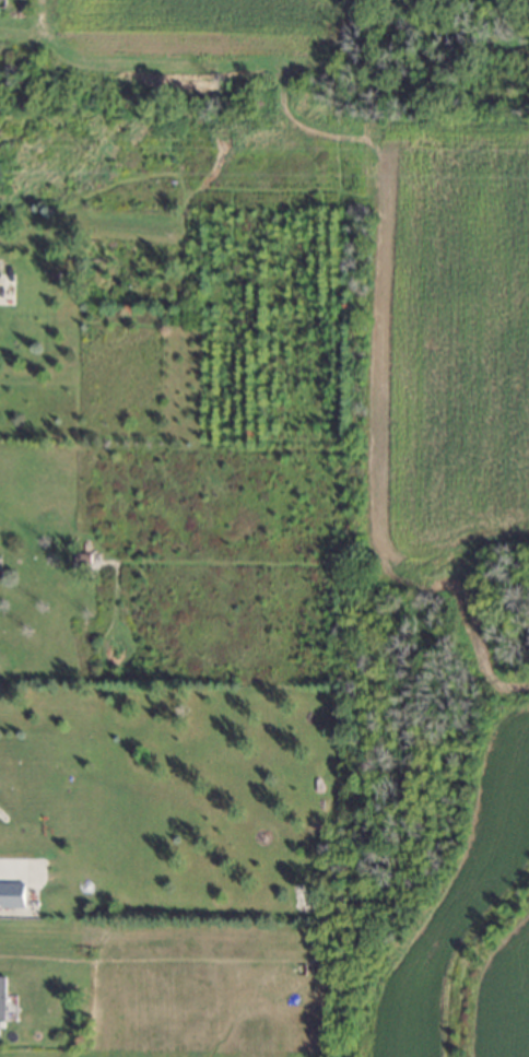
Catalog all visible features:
crop: (198, 27)
road: (376, 251)
crop: (446, 341)
building: (12, 896)
crop: (472, 926)
crop: (202, 994)
building: (2, 998)

